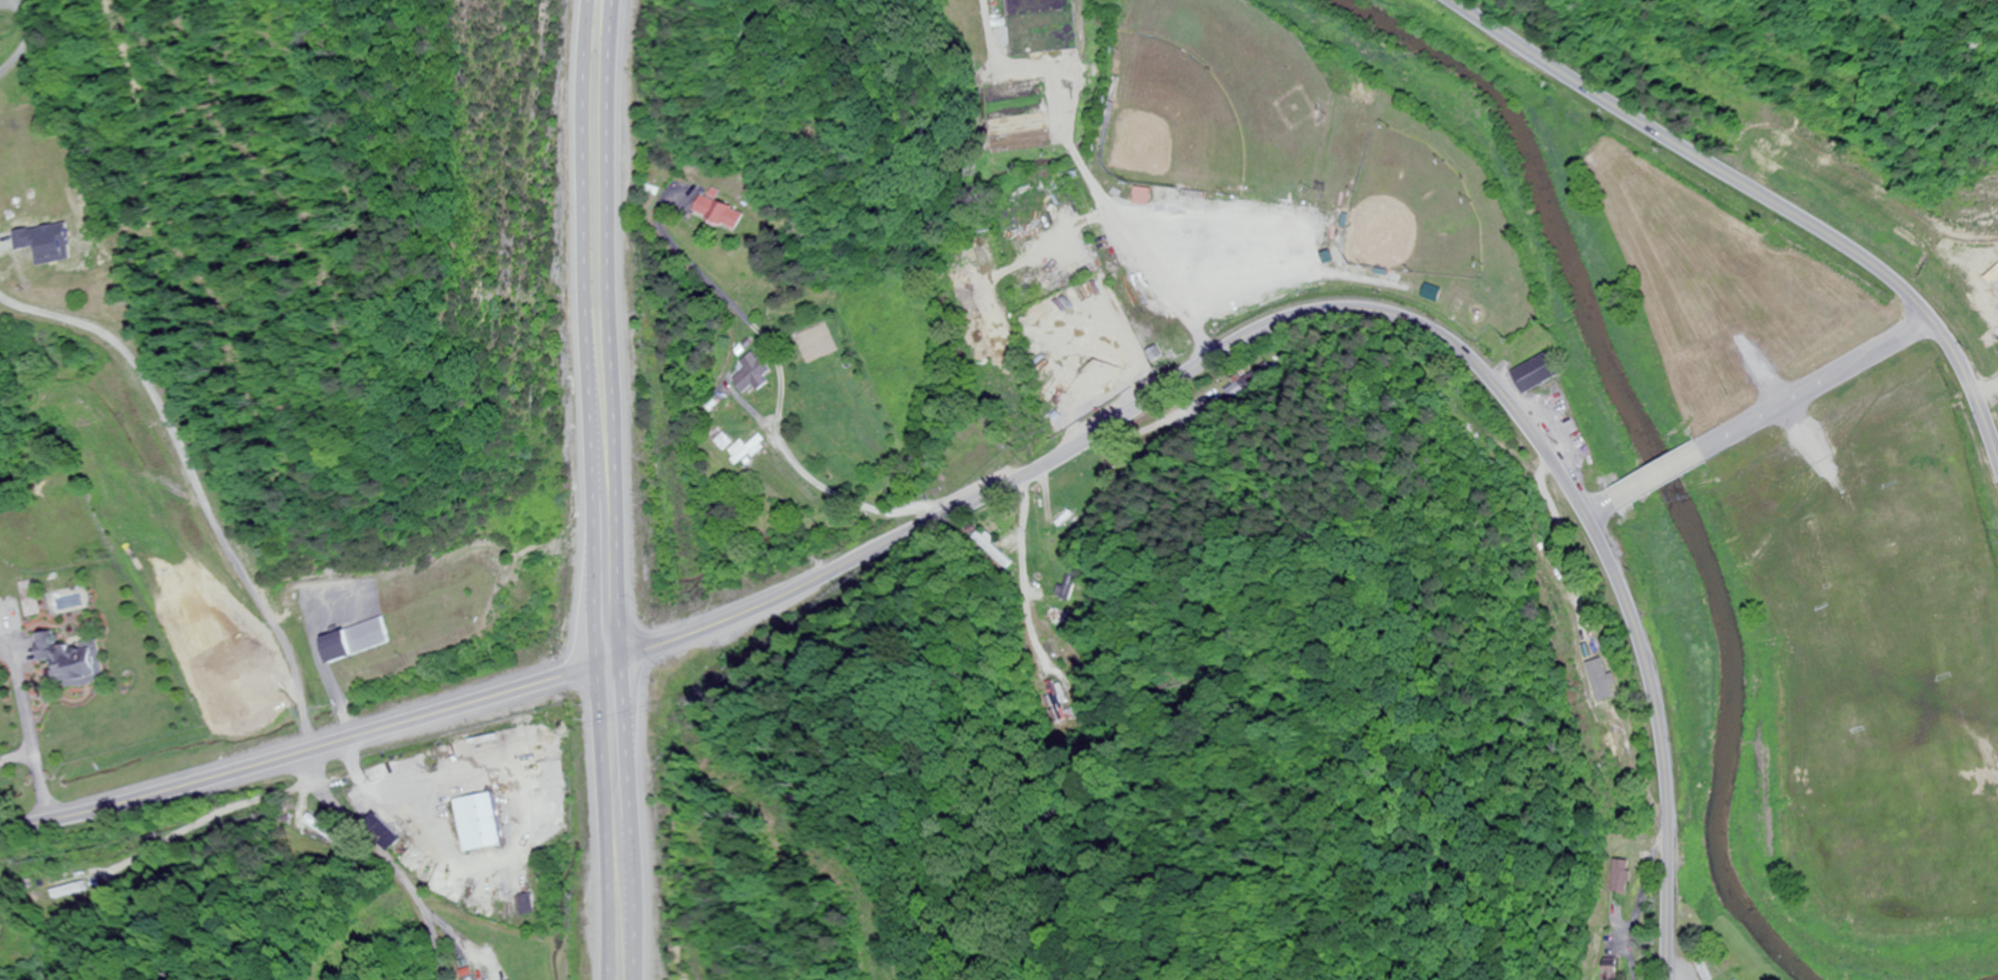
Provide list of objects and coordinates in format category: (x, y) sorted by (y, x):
road: (23, 38)
wastewater plant: (1033, 69)
park: (1215, 101)
road: (1083, 170)
road: (1761, 195)
building: (1145, 196)
park: (1413, 212)
building: (714, 214)
parking lot: (1238, 258)
building: (1432, 294)
road: (1351, 308)
building: (1538, 373)
building: (753, 374)
building: (1248, 381)
road: (1814, 382)
building: (722, 442)
river: (1652, 447)
building: (748, 450)
road: (1655, 471)
road: (590, 489)
road: (621, 489)
road: (185, 496)
road: (1597, 504)
building: (1069, 585)
building: (360, 640)
building: (73, 660)
building: (208, 667)
building: (1598, 677)
building: (1054, 696)
road: (28, 724)
road: (316, 748)
road: (18, 757)
building: (477, 823)
building: (326, 829)
building: (384, 834)
road: (384, 858)
building: (1621, 877)
building: (76, 891)
building: (526, 904)
road: (1640, 910)
building: (1613, 969)
river: (1997, 979)

